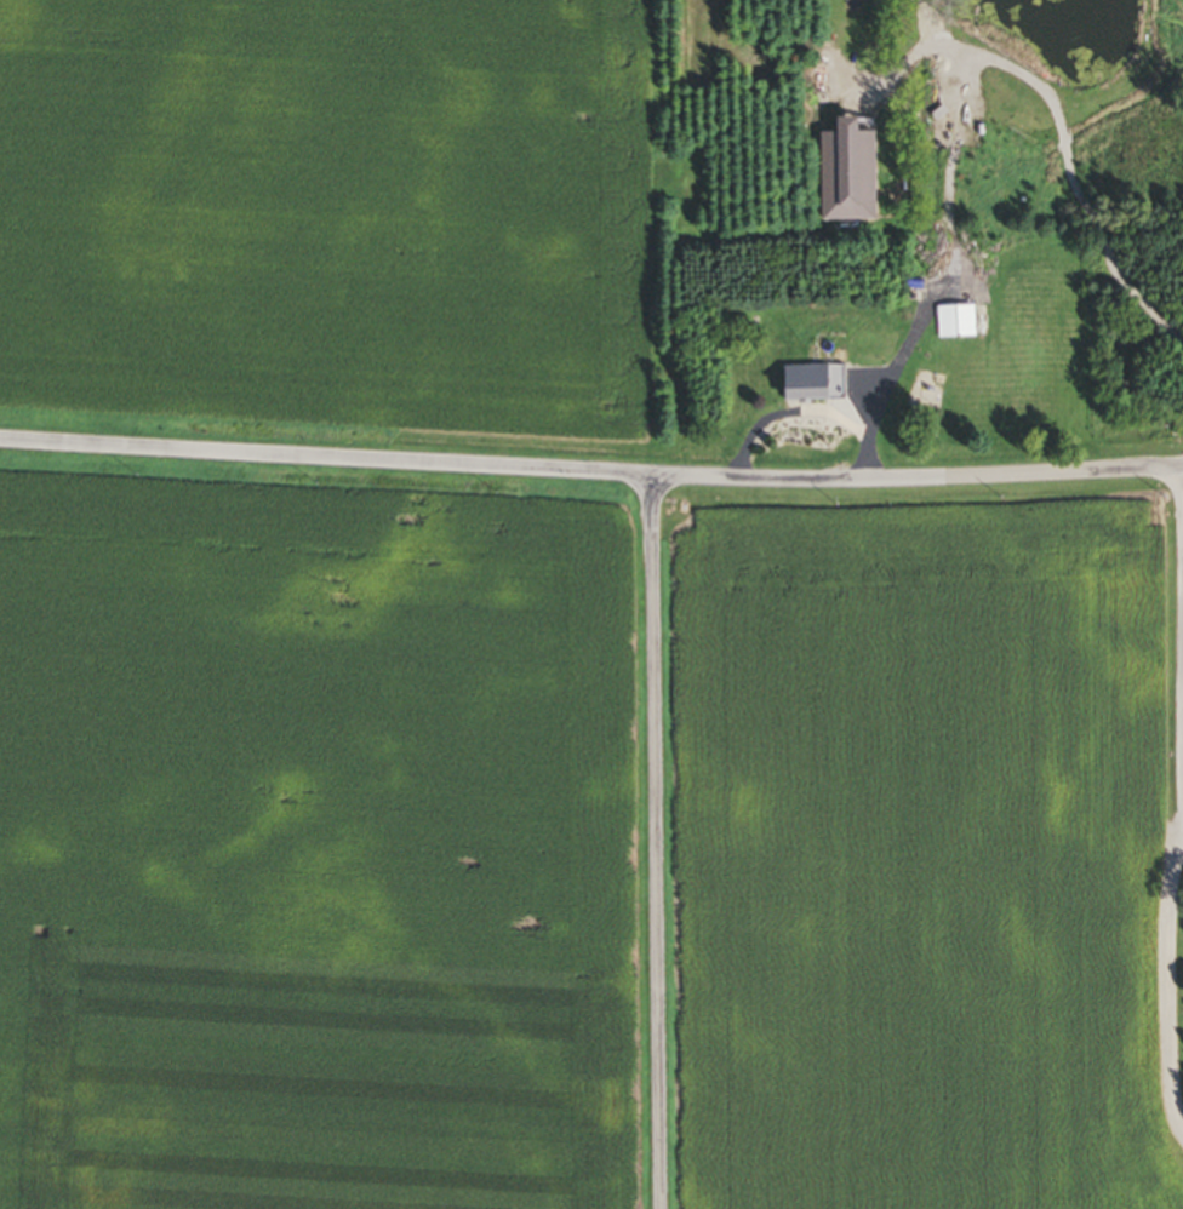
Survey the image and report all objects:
road: (1078, 194)
building: (951, 323)
road: (890, 379)
building: (795, 385)
road: (784, 416)
road: (590, 471)
road: (1181, 659)
road: (657, 842)

